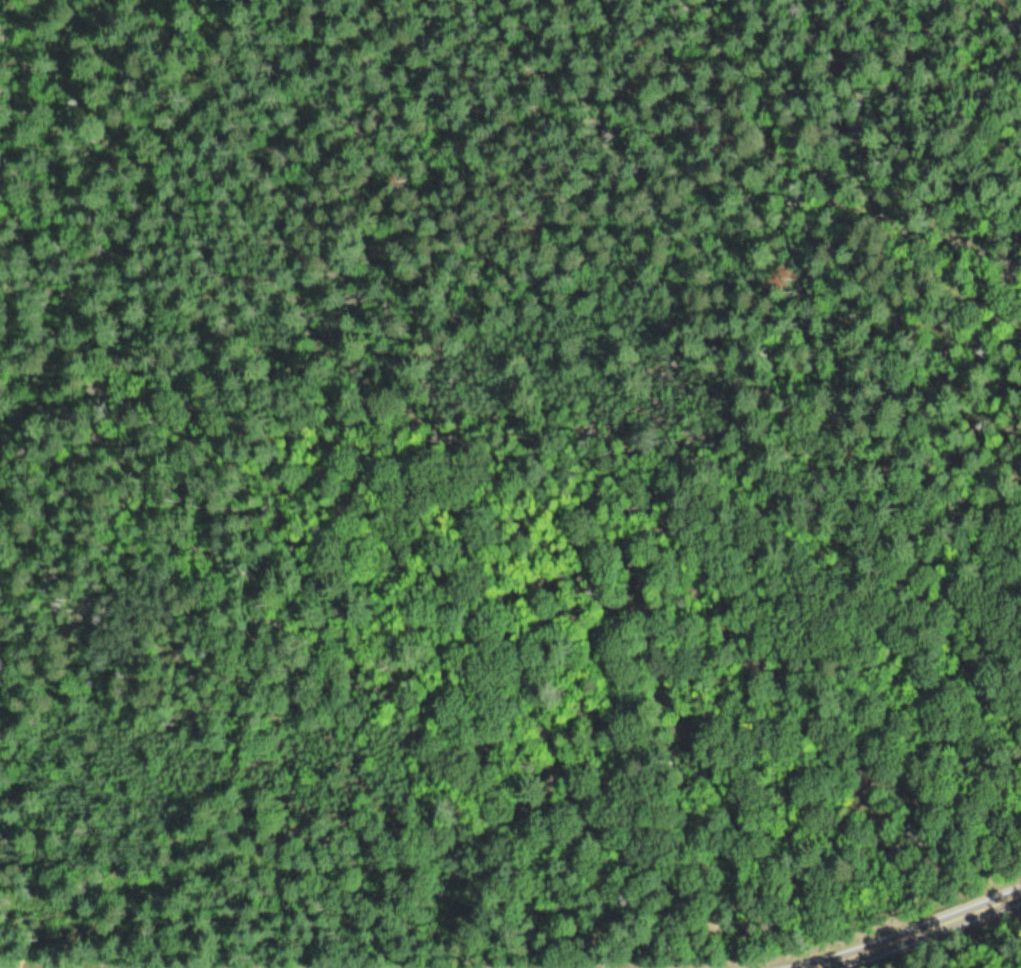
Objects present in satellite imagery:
road: (885, 929)

